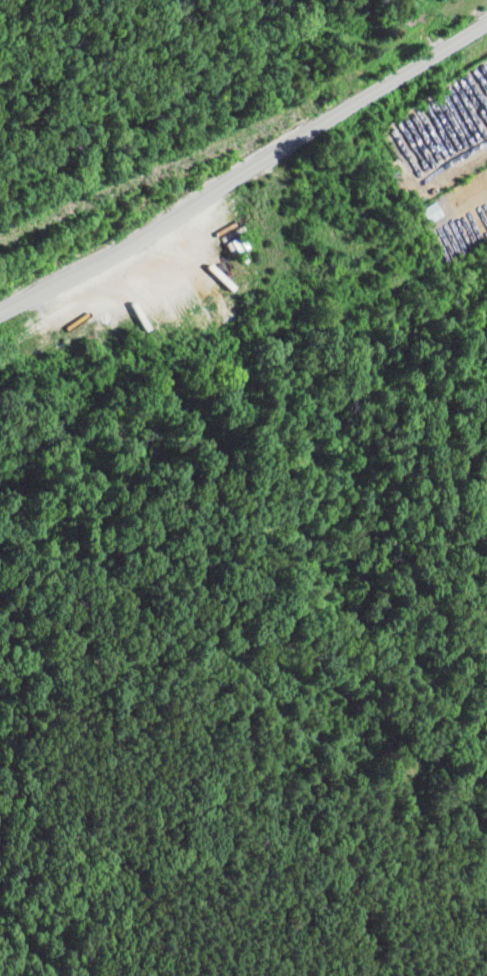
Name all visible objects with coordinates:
road: (246, 171)
building: (434, 213)

